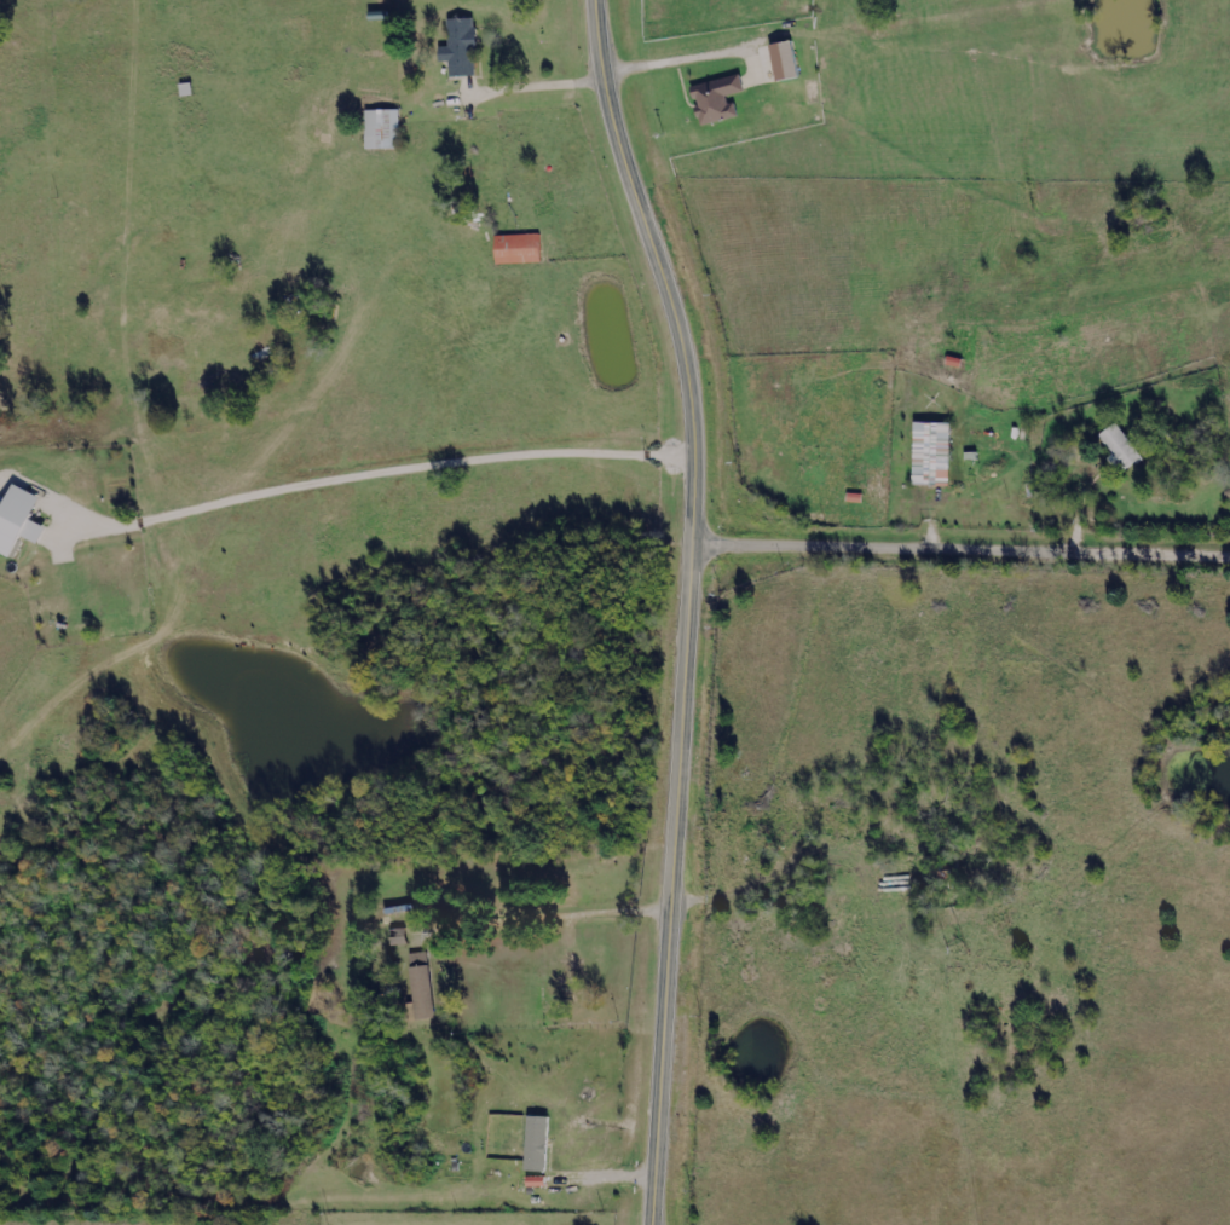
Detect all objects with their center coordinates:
building: (456, 48)
building: (789, 60)
road: (629, 65)
building: (712, 99)
building: (379, 131)
building: (475, 179)
building: (513, 249)
building: (1116, 447)
building: (928, 455)
road: (376, 468)
building: (16, 521)
road: (963, 547)
road: (691, 606)
road: (542, 913)
building: (567, 976)
building: (417, 988)
building: (541, 1143)

